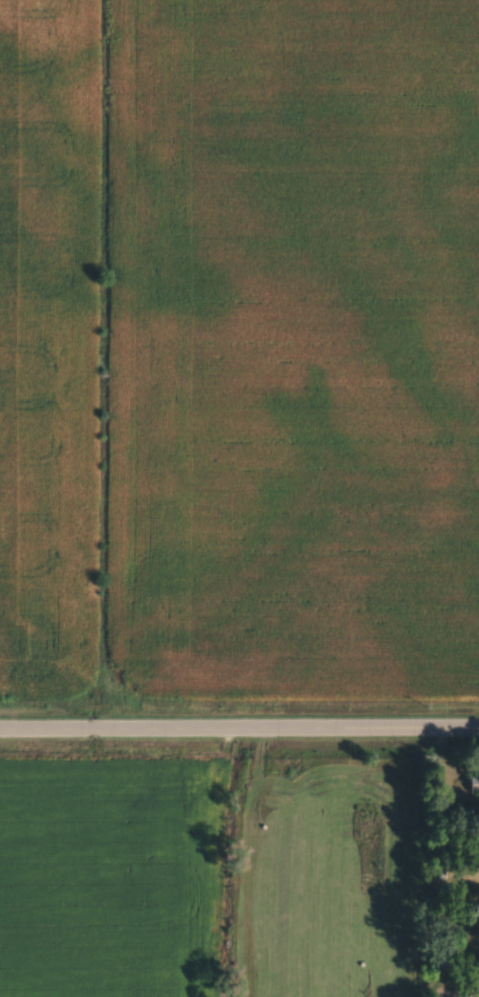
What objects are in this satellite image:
crop: (239, 348)
road: (216, 725)
road: (455, 725)
building: (473, 784)
crop: (207, 875)
road: (461, 996)

